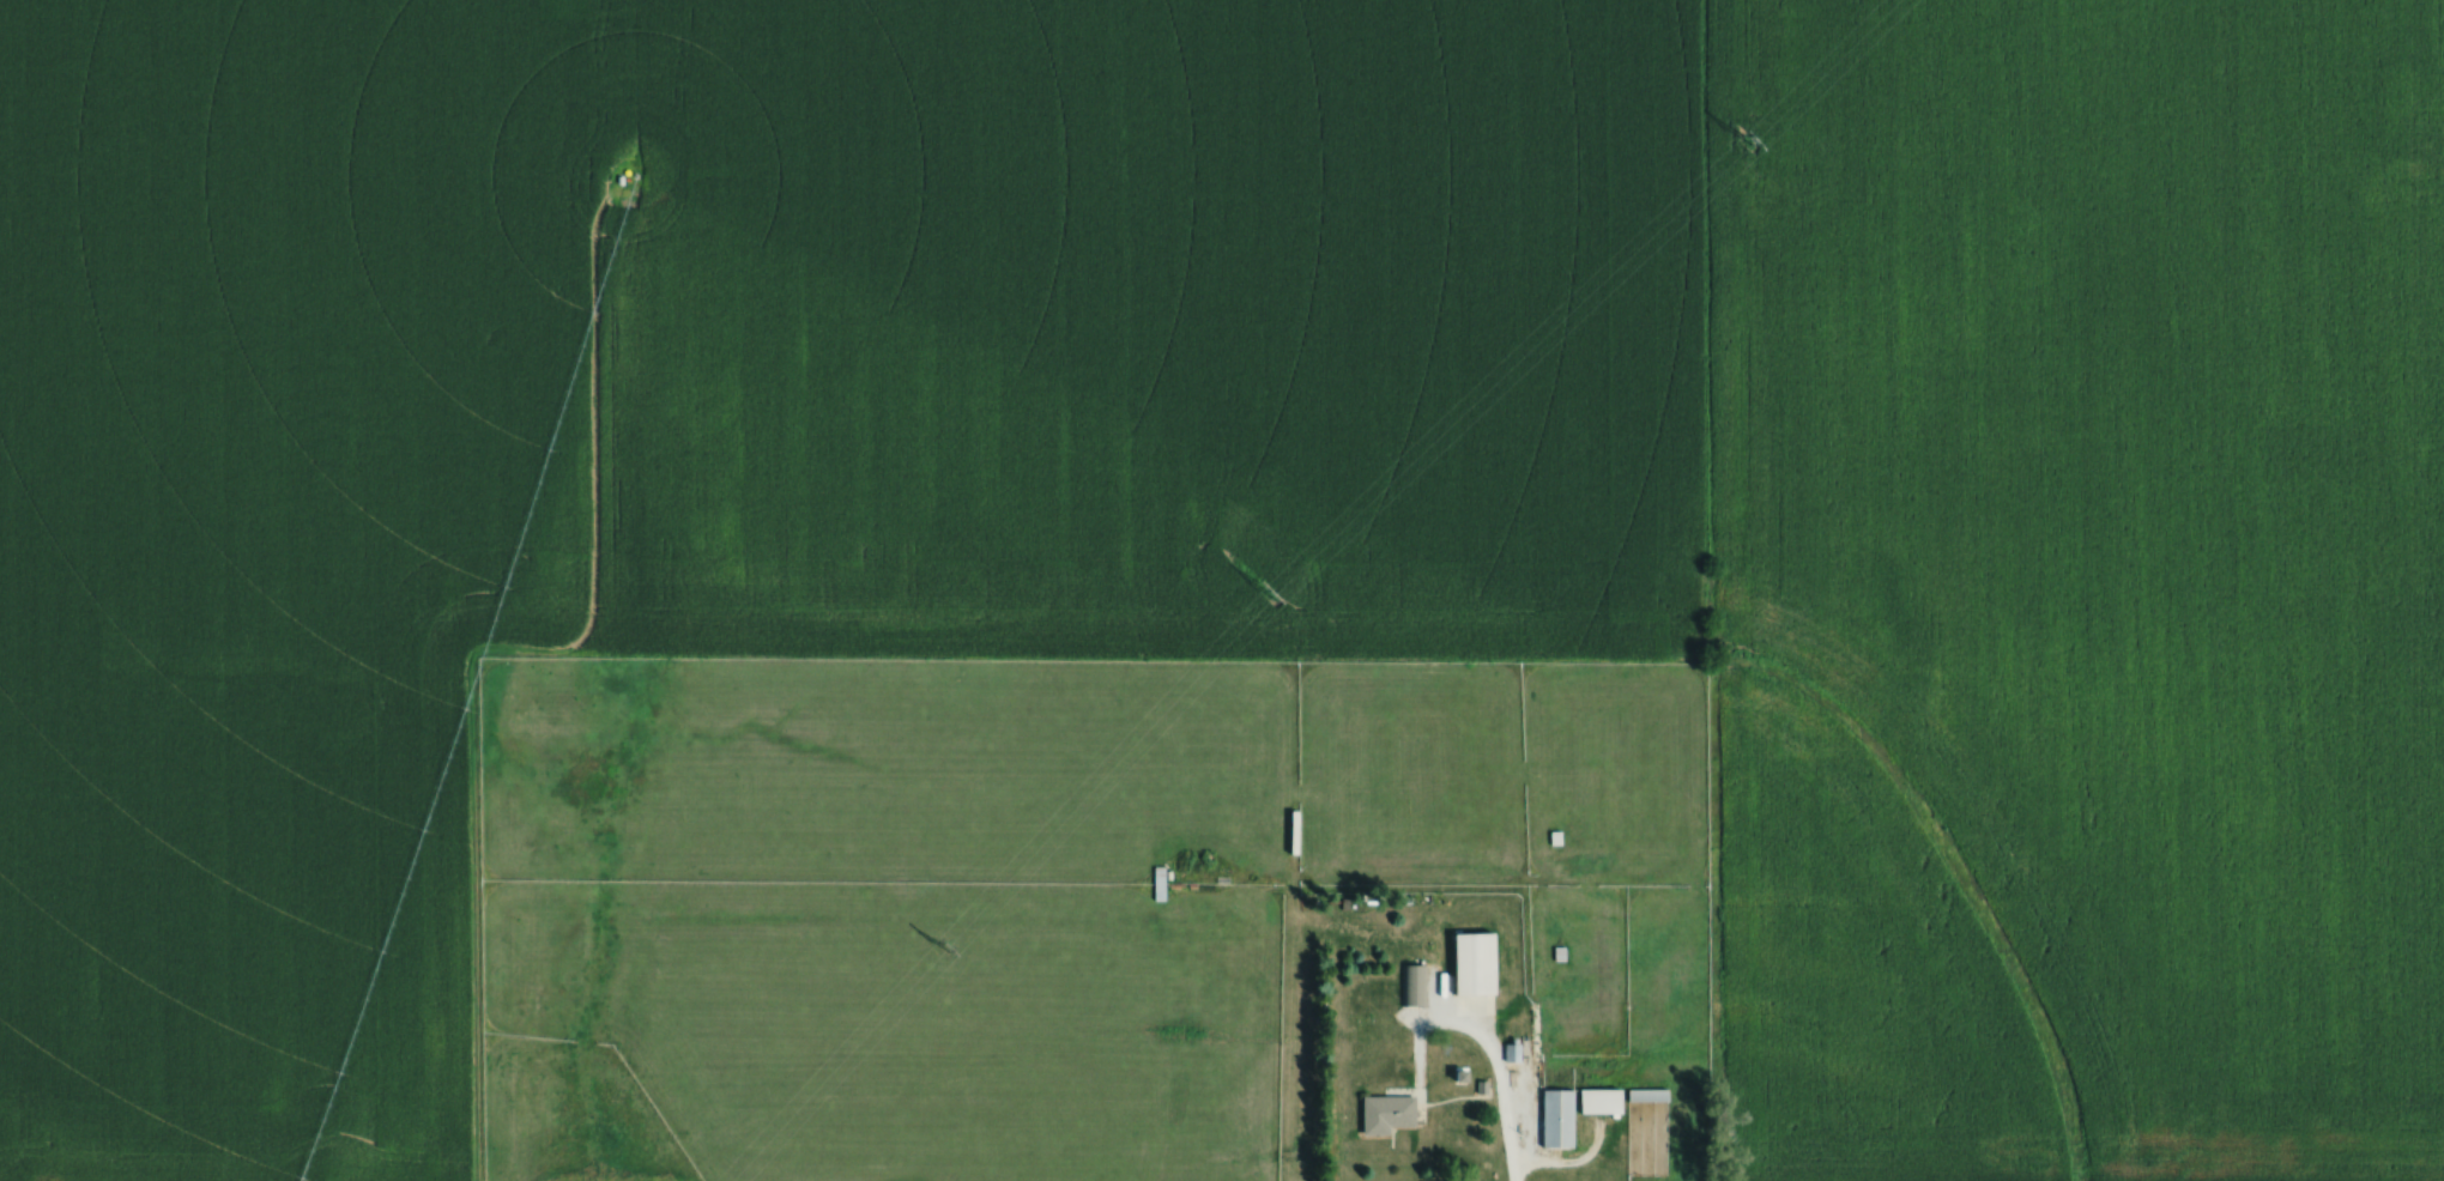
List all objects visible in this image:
power tower: (1748, 138)
power tower: (1276, 595)
building: (1161, 880)
power tower: (945, 946)
building: (1481, 962)
building: (1416, 983)
road: (1492, 1047)
building: (1652, 1092)
building: (1607, 1100)
building: (1391, 1110)
building: (1562, 1116)

